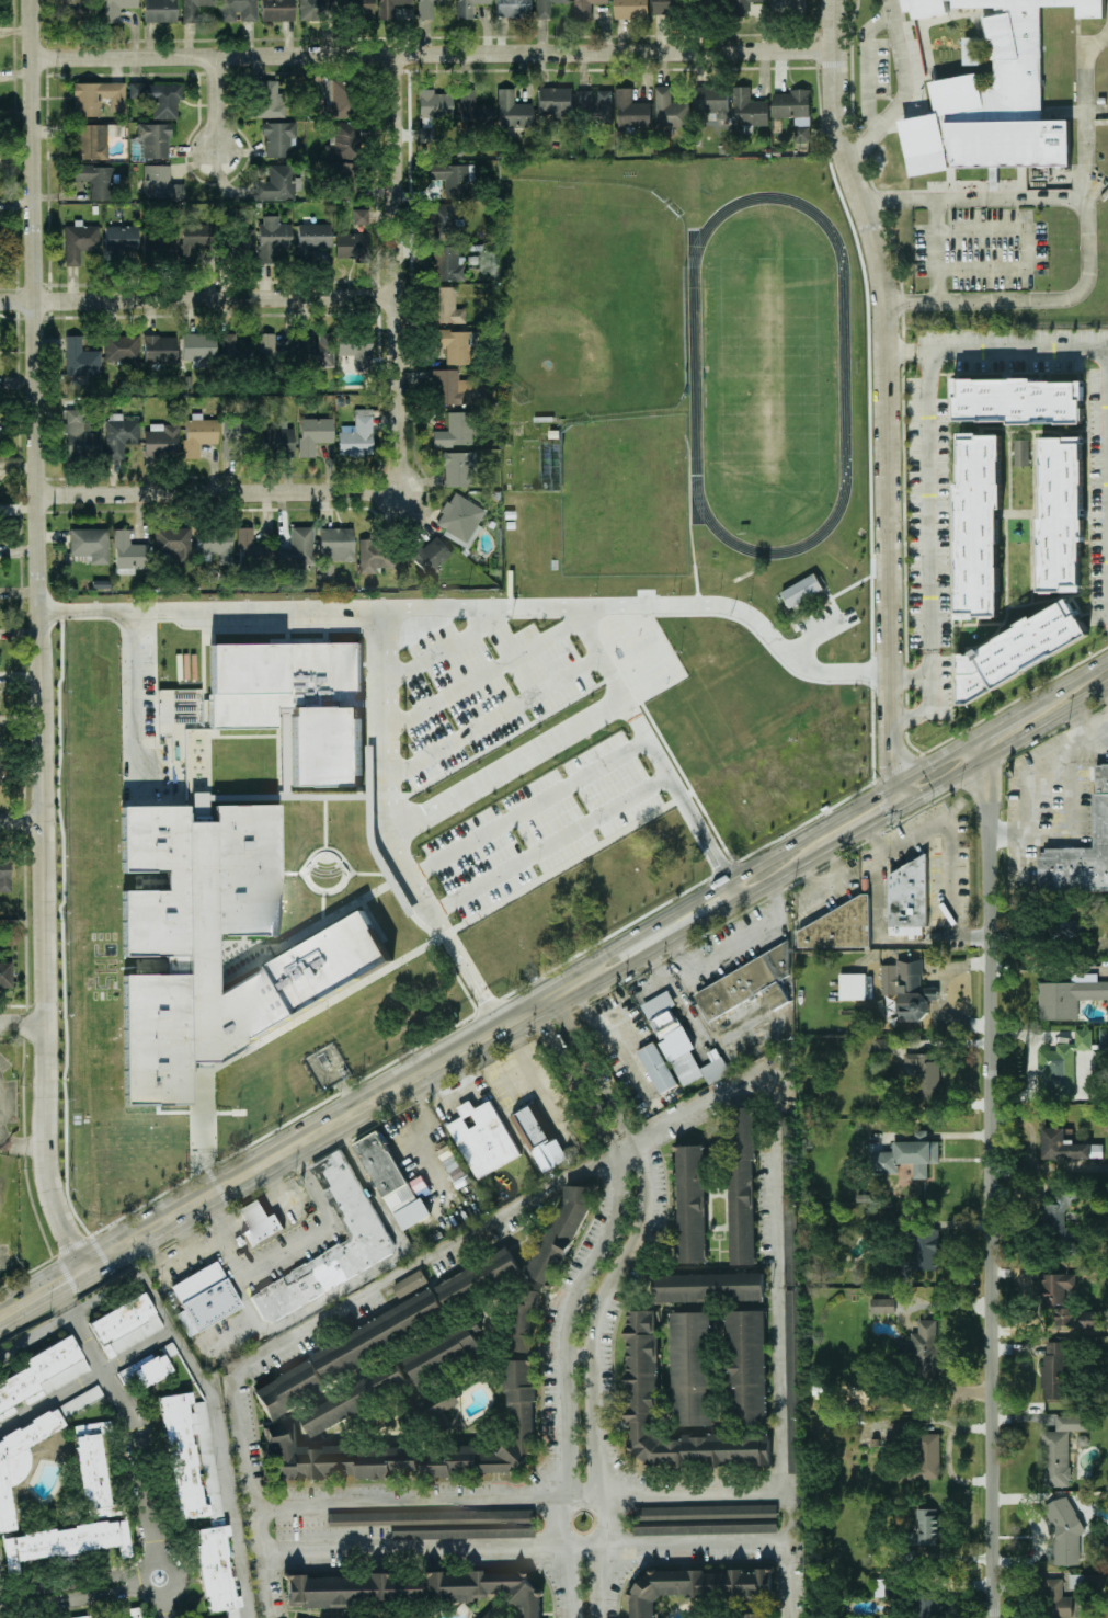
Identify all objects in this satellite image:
building: (716, 0)
building: (788, 4)
building: (468, 7)
building: (585, 7)
building: (664, 7)
building: (740, 7)
building: (361, 8)
building: (389, 8)
building: (429, 8)
building: (513, 8)
building: (545, 8)
building: (630, 8)
building: (116, 9)
building: (194, 9)
building: (316, 9)
building: (70, 10)
building: (160, 10)
building: (238, 10)
building: (276, 10)
building: (970, 50)
road: (431, 53)
road: (864, 65)
road: (901, 90)
building: (993, 95)
building: (158, 96)
building: (269, 98)
building: (336, 98)
building: (712, 99)
building: (555, 101)
building: (434, 103)
building: (595, 103)
road: (217, 104)
building: (749, 107)
building: (631, 109)
building: (669, 109)
building: (473, 110)
building: (513, 110)
building: (793, 110)
road: (1077, 112)
building: (426, 128)
building: (278, 138)
building: (155, 139)
building: (92, 140)
building: (343, 141)
building: (341, 168)
building: (452, 178)
building: (95, 180)
building: (160, 183)
building: (277, 183)
building: (350, 190)
road: (969, 198)
building: (361, 216)
building: (444, 223)
building: (315, 236)
building: (122, 237)
building: (273, 237)
building: (193, 239)
building: (79, 241)
building: (243, 242)
building: (352, 243)
building: (160, 247)
road: (934, 250)
road: (1024, 250)
road: (1083, 251)
building: (447, 263)
road: (396, 271)
road: (197, 297)
park: (589, 297)
building: (445, 305)
building: (455, 345)
building: (122, 347)
building: (198, 347)
building: (255, 347)
building: (356, 347)
building: (160, 349)
building: (315, 349)
road: (996, 350)
building: (81, 357)
track: (841, 372)
park: (766, 374)
building: (450, 387)
road: (886, 399)
building: (1017, 399)
building: (455, 430)
building: (198, 433)
building: (313, 433)
building: (80, 434)
building: (119, 434)
building: (357, 434)
building: (238, 437)
building: (161, 438)
building: (277, 440)
building: (1020, 451)
building: (459, 467)
road: (218, 492)
road: (928, 512)
building: (1060, 514)
building: (460, 516)
building: (978, 524)
building: (173, 542)
building: (336, 543)
building: (90, 544)
building: (215, 544)
building: (249, 545)
building: (298, 546)
building: (128, 552)
building: (377, 554)
building: (429, 554)
building: (801, 589)
road: (476, 605)
road: (816, 631)
road: (41, 635)
building: (1018, 649)
road: (1081, 671)
road: (484, 673)
road: (909, 674)
road: (134, 697)
building: (295, 703)
road: (925, 709)
road: (494, 711)
road: (1012, 711)
road: (388, 718)
road: (1104, 737)
road: (648, 741)
road: (1008, 744)
traffic signals: (930, 760)
traffic signals: (891, 763)
road: (506, 764)
road: (1072, 801)
road: (528, 805)
building: (198, 806)
traffic signals: (882, 818)
road: (22, 822)
road: (859, 831)
road: (392, 839)
road: (950, 843)
road: (550, 844)
road: (775, 850)
building: (1081, 853)
building: (4, 875)
road: (732, 889)
building: (905, 900)
road: (699, 921)
building: (836, 927)
building: (1066, 927)
road: (878, 934)
road: (447, 935)
road: (734, 945)
building: (169, 948)
building: (5, 973)
building: (904, 982)
building: (850, 984)
building: (747, 987)
building: (1069, 994)
road: (23, 1022)
building: (1103, 1038)
building: (679, 1041)
building: (882, 1045)
road: (460, 1046)
building: (1061, 1066)
building: (656, 1067)
road: (590, 1068)
building: (924, 1072)
road: (572, 1079)
road: (311, 1132)
building: (538, 1136)
road: (1, 1140)
building: (480, 1140)
road: (25, 1143)
building: (1066, 1144)
building: (906, 1155)
road: (249, 1167)
building: (382, 1173)
road: (986, 1174)
building: (741, 1185)
building: (861, 1196)
building: (346, 1200)
road: (192, 1201)
building: (690, 1203)
road: (221, 1213)
building: (410, 1215)
building: (789, 1217)
building: (1058, 1217)
road: (160, 1220)
building: (254, 1223)
road: (327, 1227)
road: (186, 1230)
building: (561, 1230)
road: (209, 1242)
road: (114, 1245)
building: (923, 1247)
road: (445, 1249)
road: (232, 1254)
road: (162, 1264)
road: (369, 1272)
road: (239, 1276)
building: (477, 1276)
building: (409, 1283)
building: (707, 1286)
road: (42, 1288)
building: (1056, 1295)
building: (202, 1296)
building: (882, 1303)
building: (1088, 1318)
building: (524, 1319)
building: (122, 1325)
road: (34, 1337)
road: (781, 1345)
building: (925, 1348)
building: (445, 1351)
building: (341, 1355)
road: (578, 1355)
building: (641, 1365)
building: (746, 1366)
building: (690, 1367)
building: (147, 1369)
building: (1053, 1371)
building: (44, 1372)
road: (594, 1372)
road: (85, 1376)
road: (561, 1377)
building: (791, 1379)
road: (214, 1395)
building: (353, 1398)
building: (438, 1402)
road: (123, 1412)
building: (890, 1434)
building: (413, 1446)
building: (1060, 1448)
building: (190, 1456)
building: (926, 1456)
building: (21, 1459)
building: (93, 1469)
road: (519, 1497)
building: (704, 1518)
building: (443, 1523)
building: (927, 1525)
building: (1064, 1532)
building: (67, 1541)
road: (524, 1547)
road: (157, 1558)
road: (262, 1560)
building: (216, 1571)
building: (696, 1585)
building: (882, 1586)
road: (71, 1588)
building: (352, 1588)
building: (486, 1588)
building: (1058, 1599)
road: (163, 1605)
building: (933, 1607)
road: (1, 1609)
building: (136, 1611)
building: (486, 1615)
building: (756, 1615)

